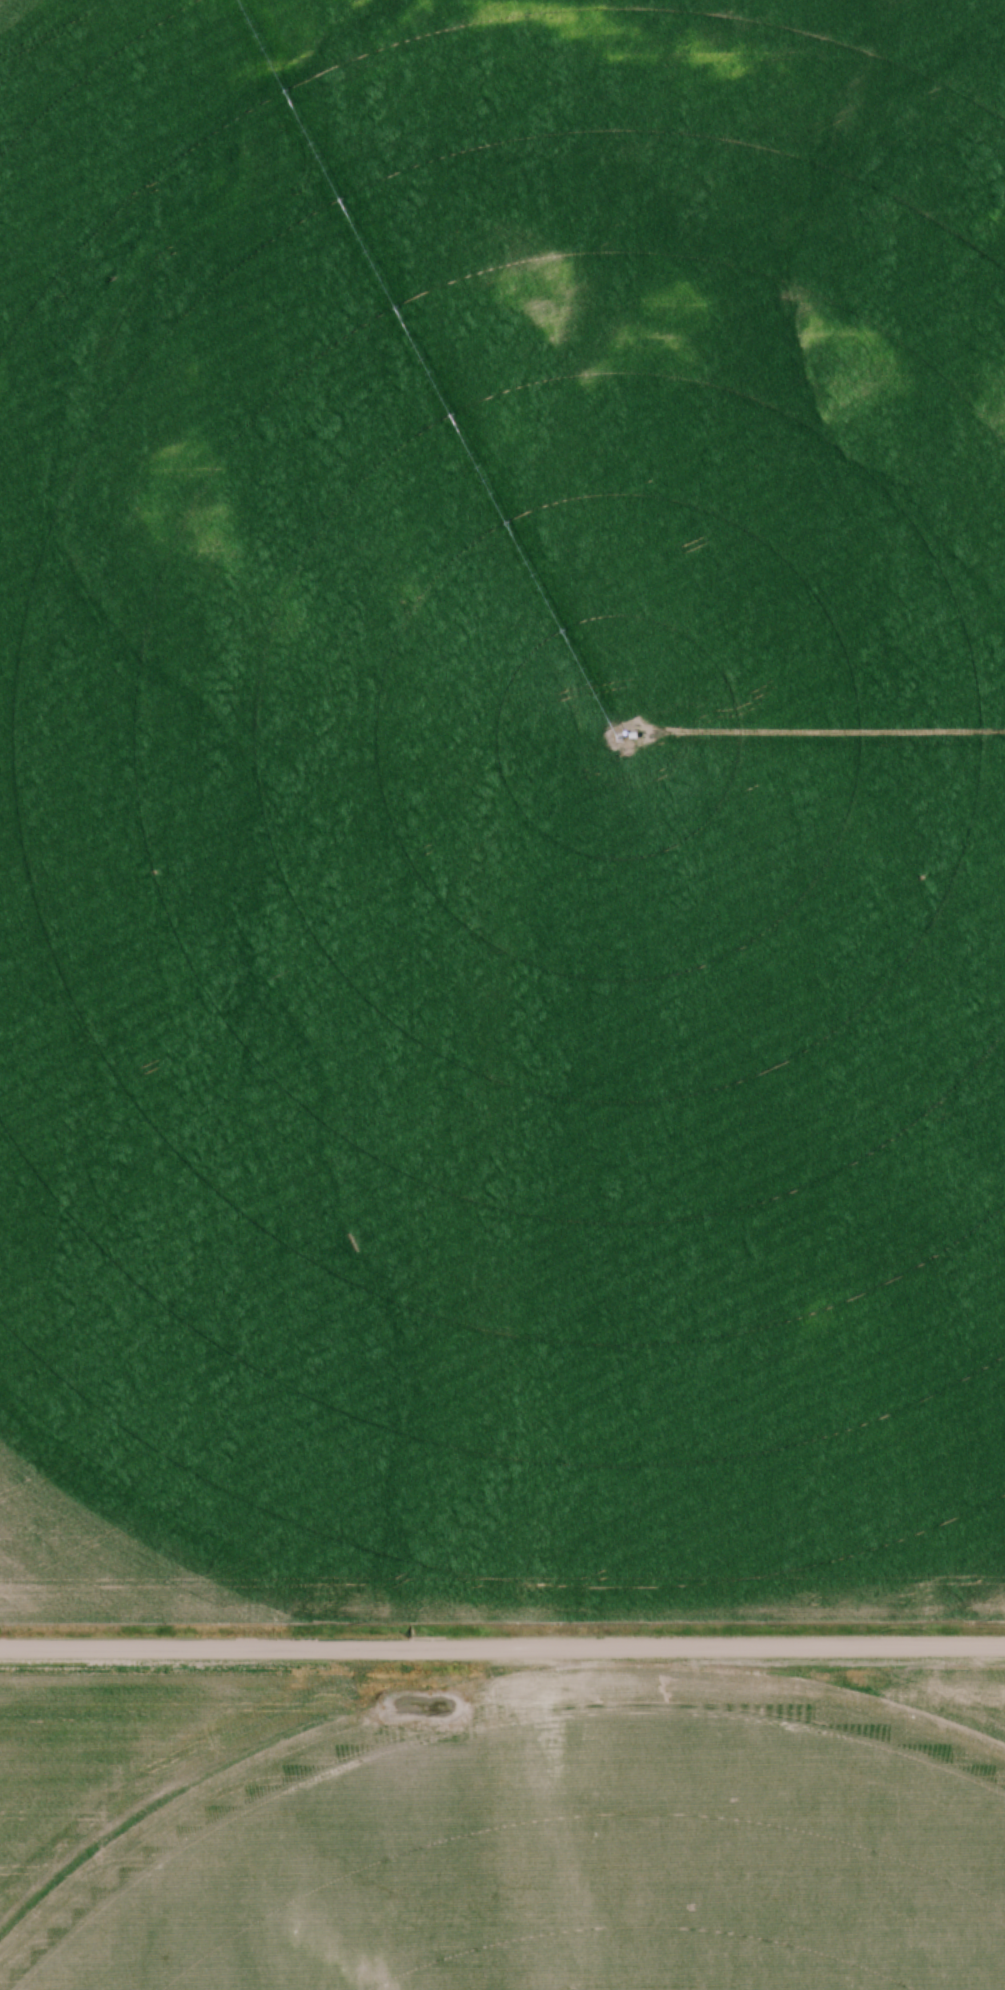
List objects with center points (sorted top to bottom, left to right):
road: (502, 1647)

